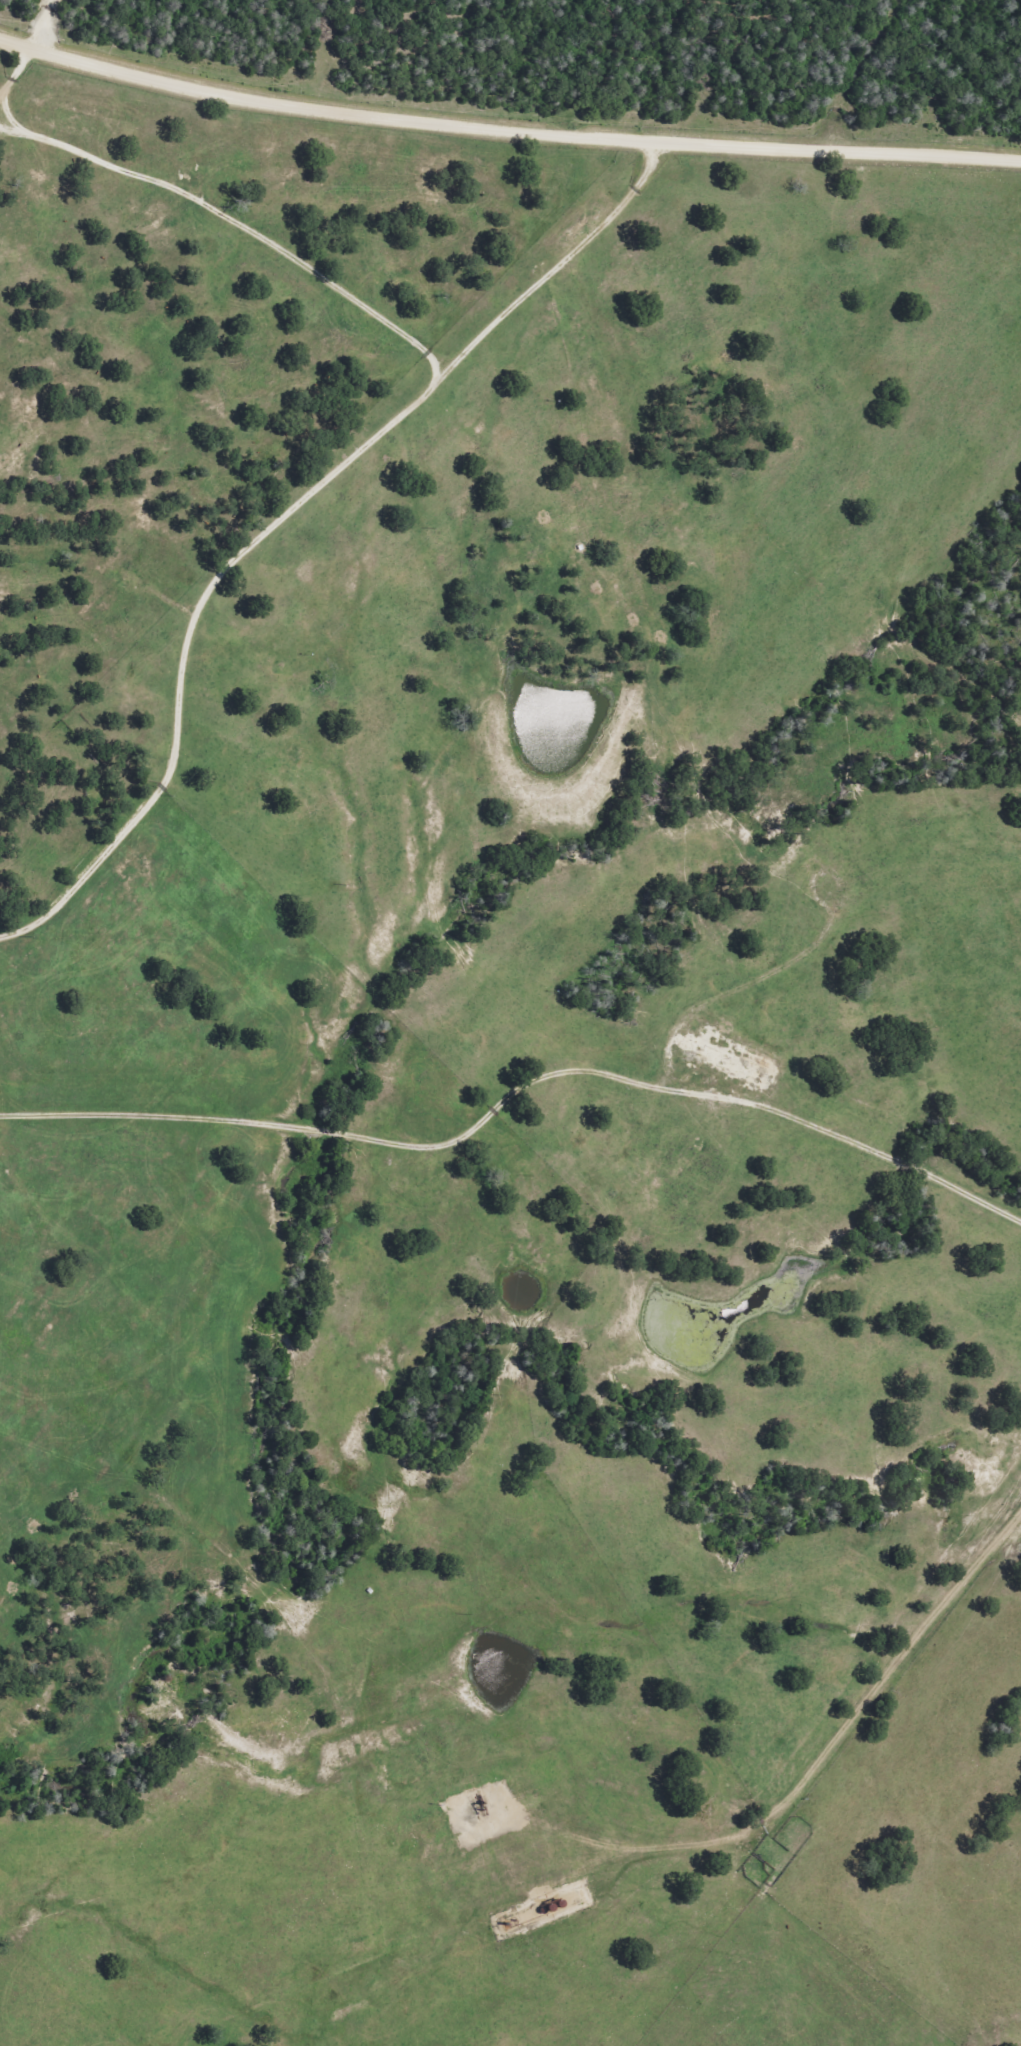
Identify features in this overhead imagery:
road: (41, 22)
road: (14, 68)
road: (857, 72)
road: (506, 126)
road: (287, 507)
road: (860, 1142)
road: (821, 1756)

